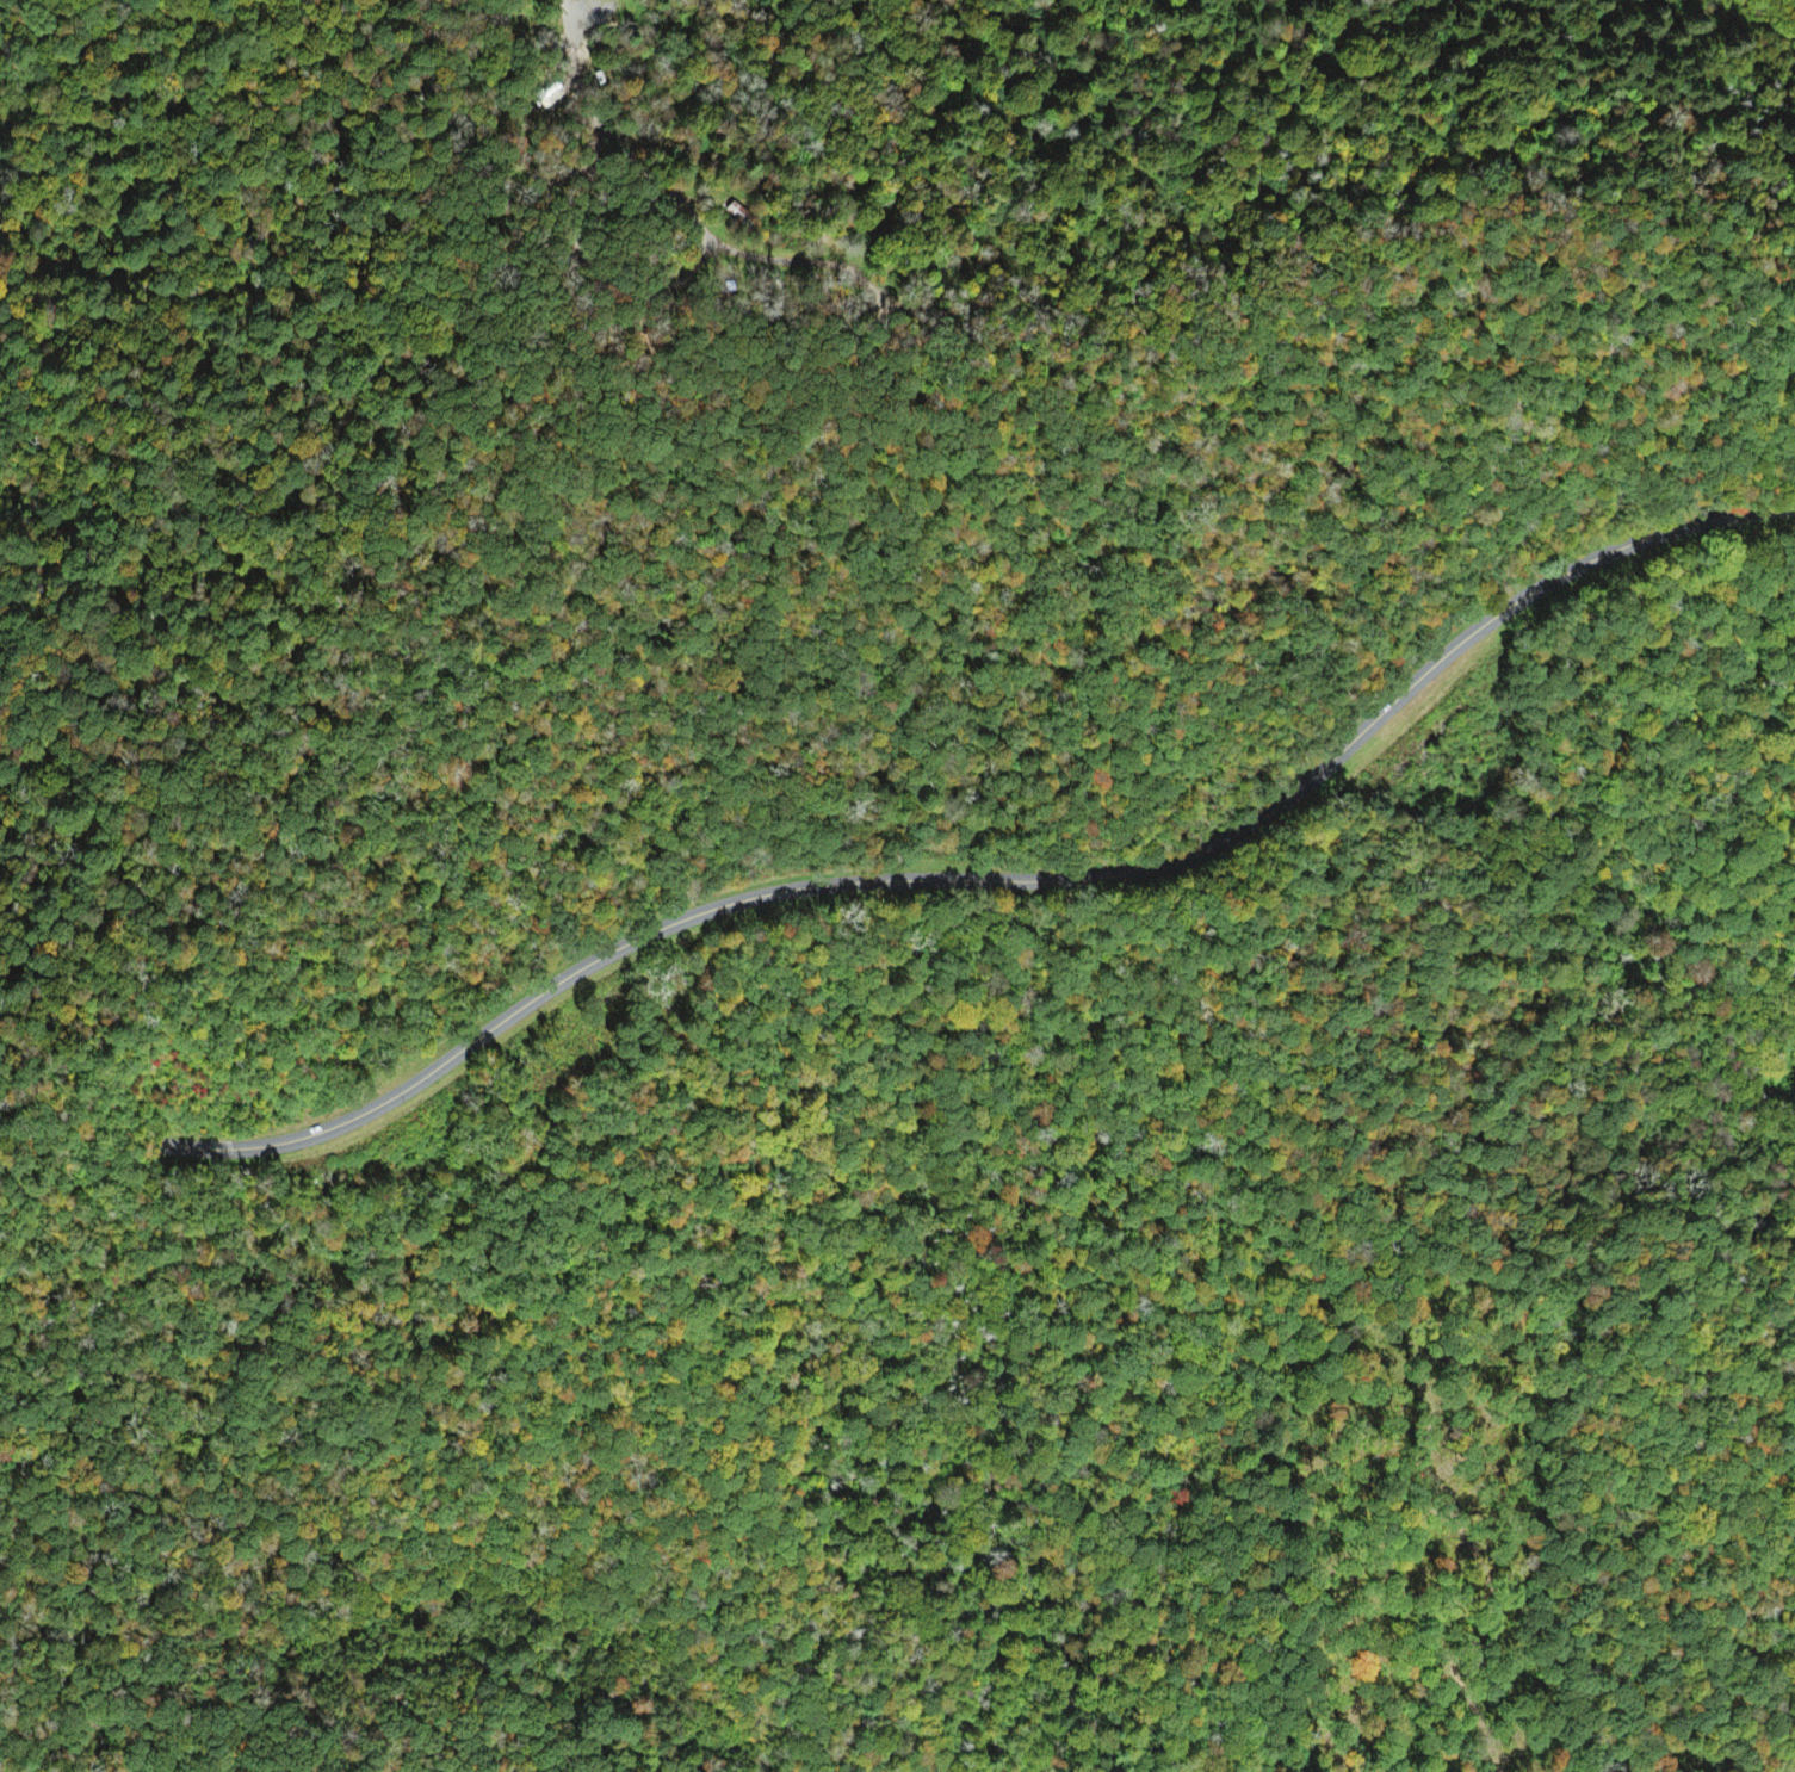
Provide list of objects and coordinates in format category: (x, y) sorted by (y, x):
road: (999, 879)

